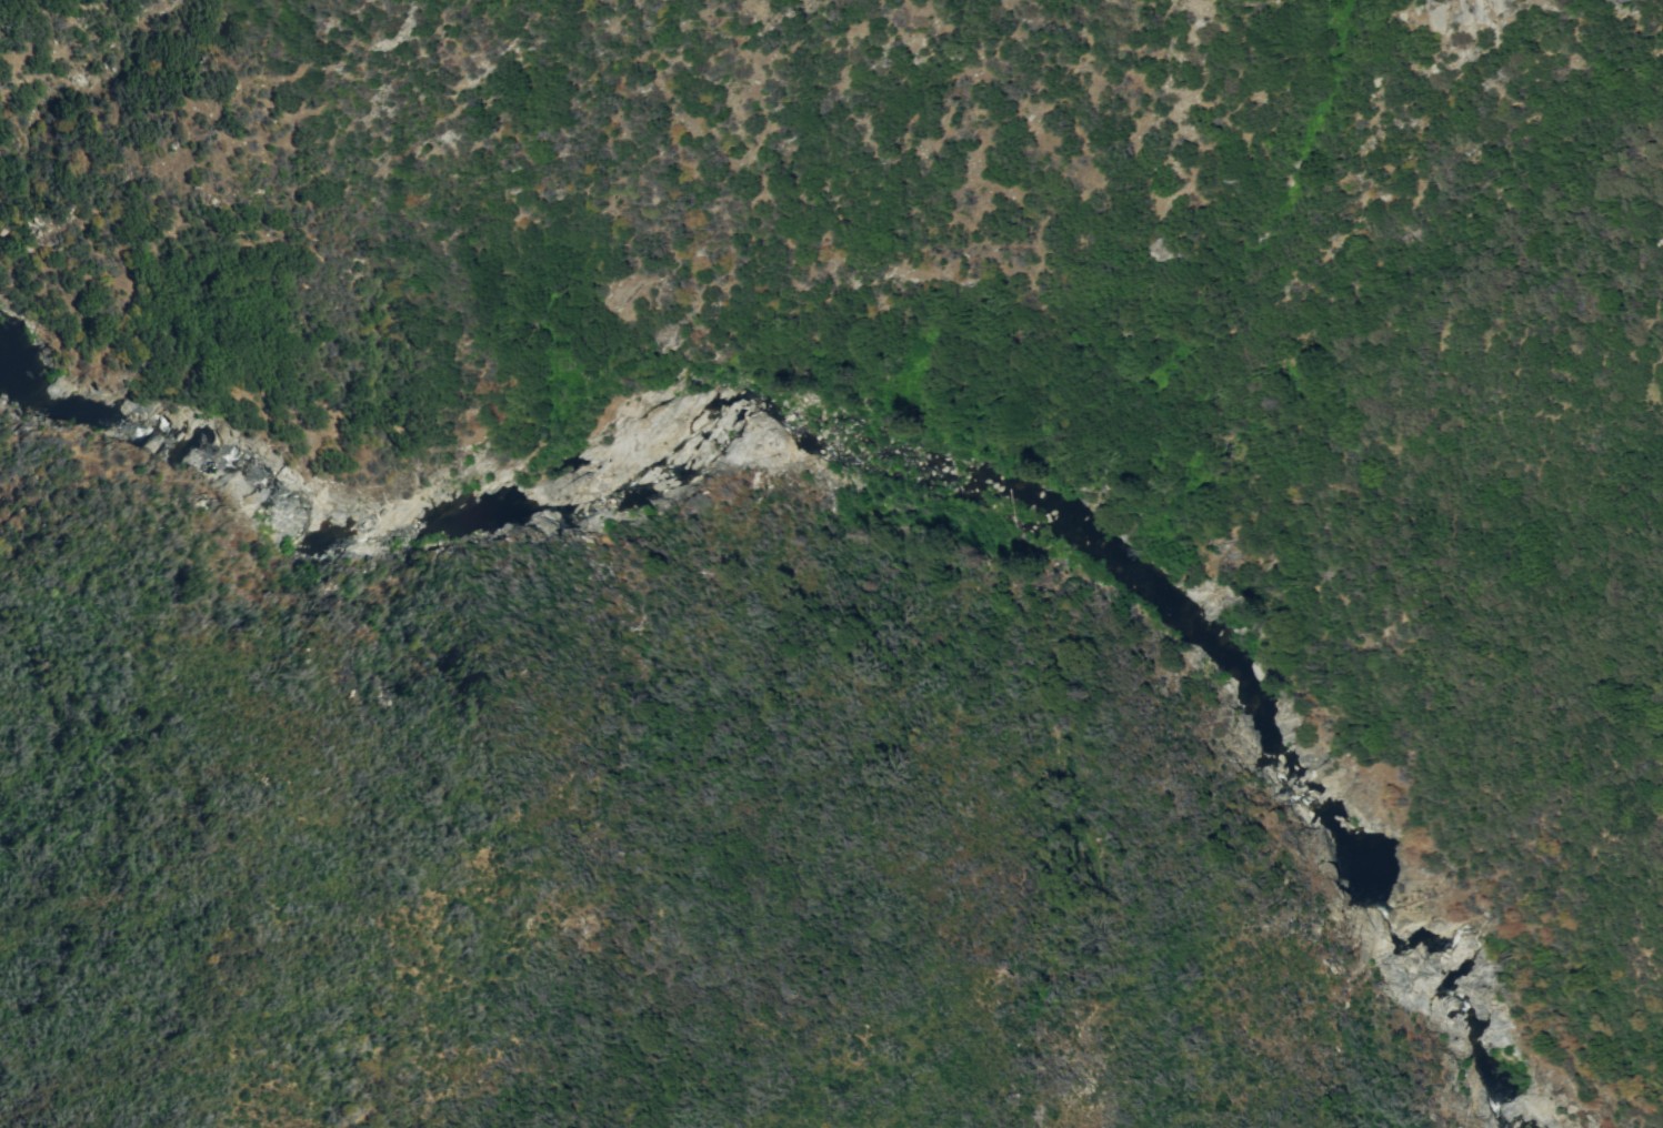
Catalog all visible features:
river: (863, 481)

